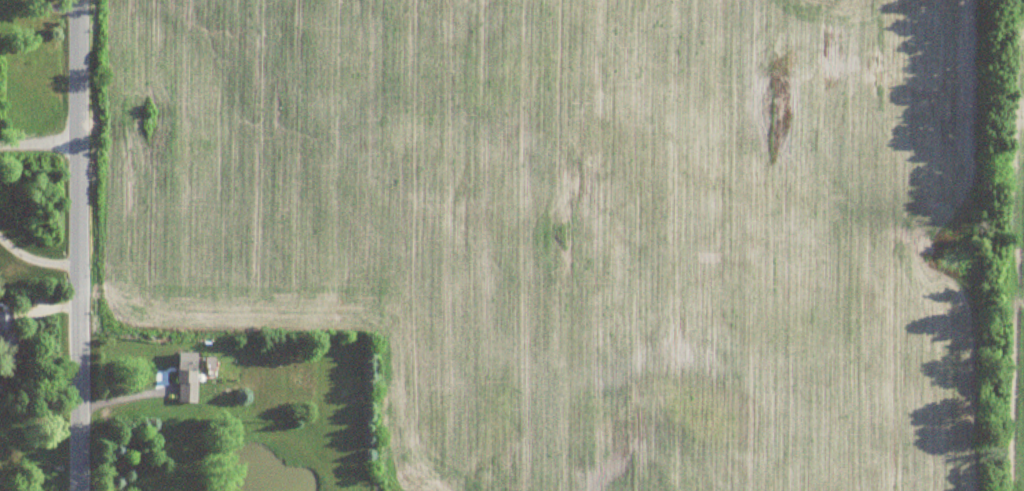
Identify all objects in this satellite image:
road: (57, 5)
road: (38, 143)
road: (77, 245)
crop: (1014, 248)
road: (36, 264)
building: (7, 336)
building: (188, 378)

